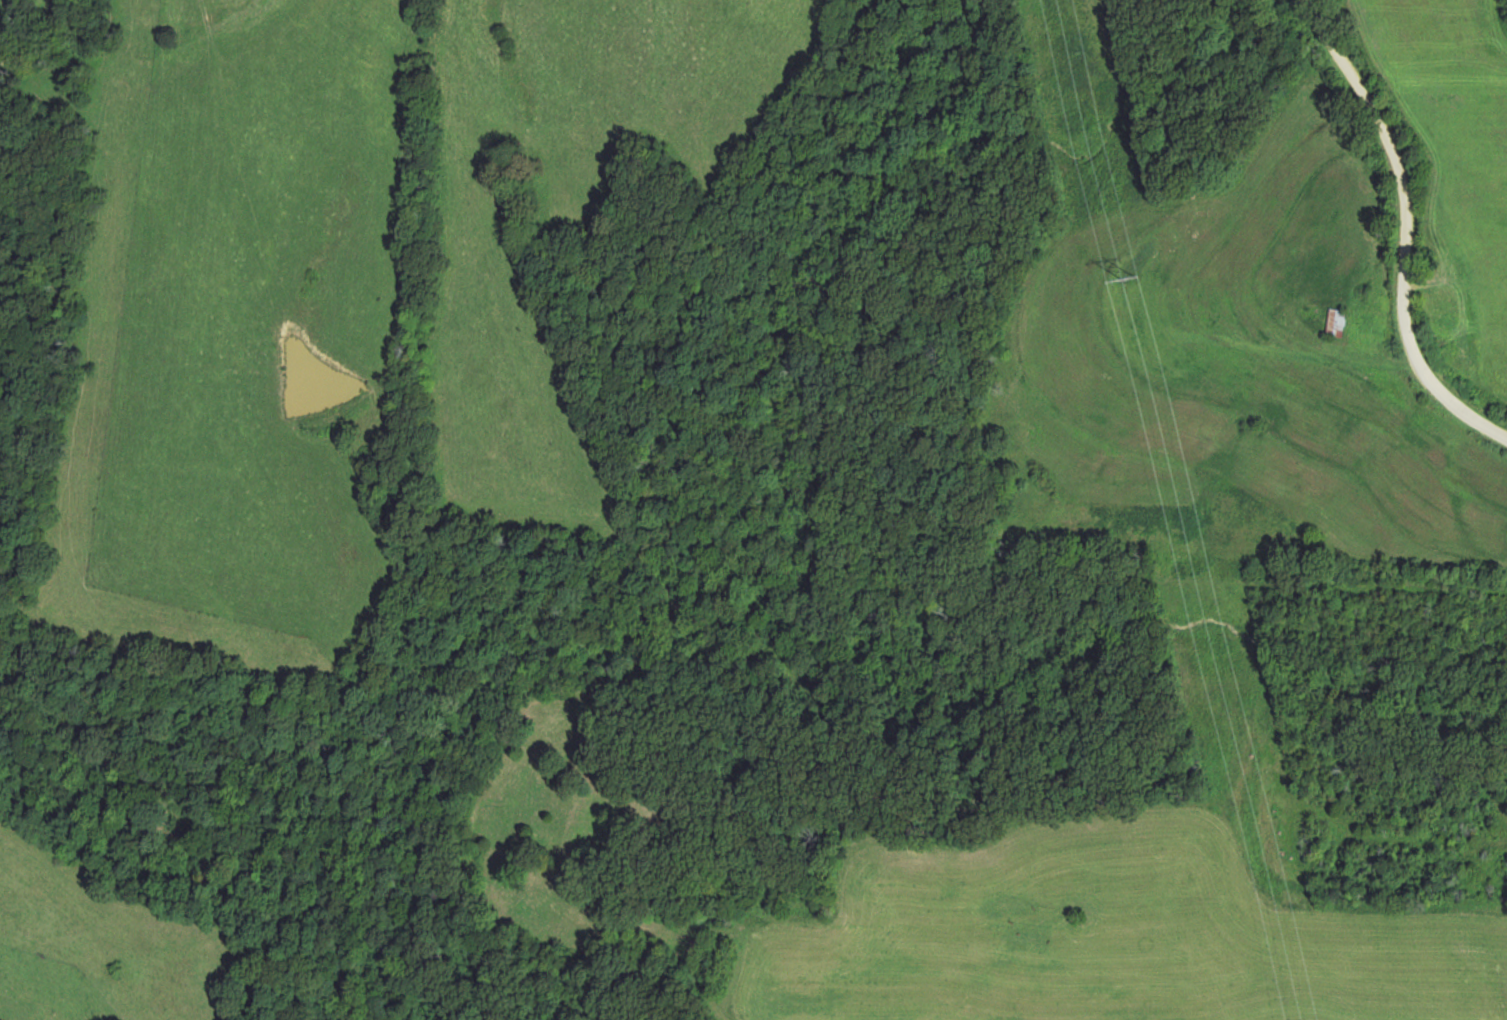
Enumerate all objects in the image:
road: (1405, 232)
power tower: (1129, 279)
building: (1338, 322)

